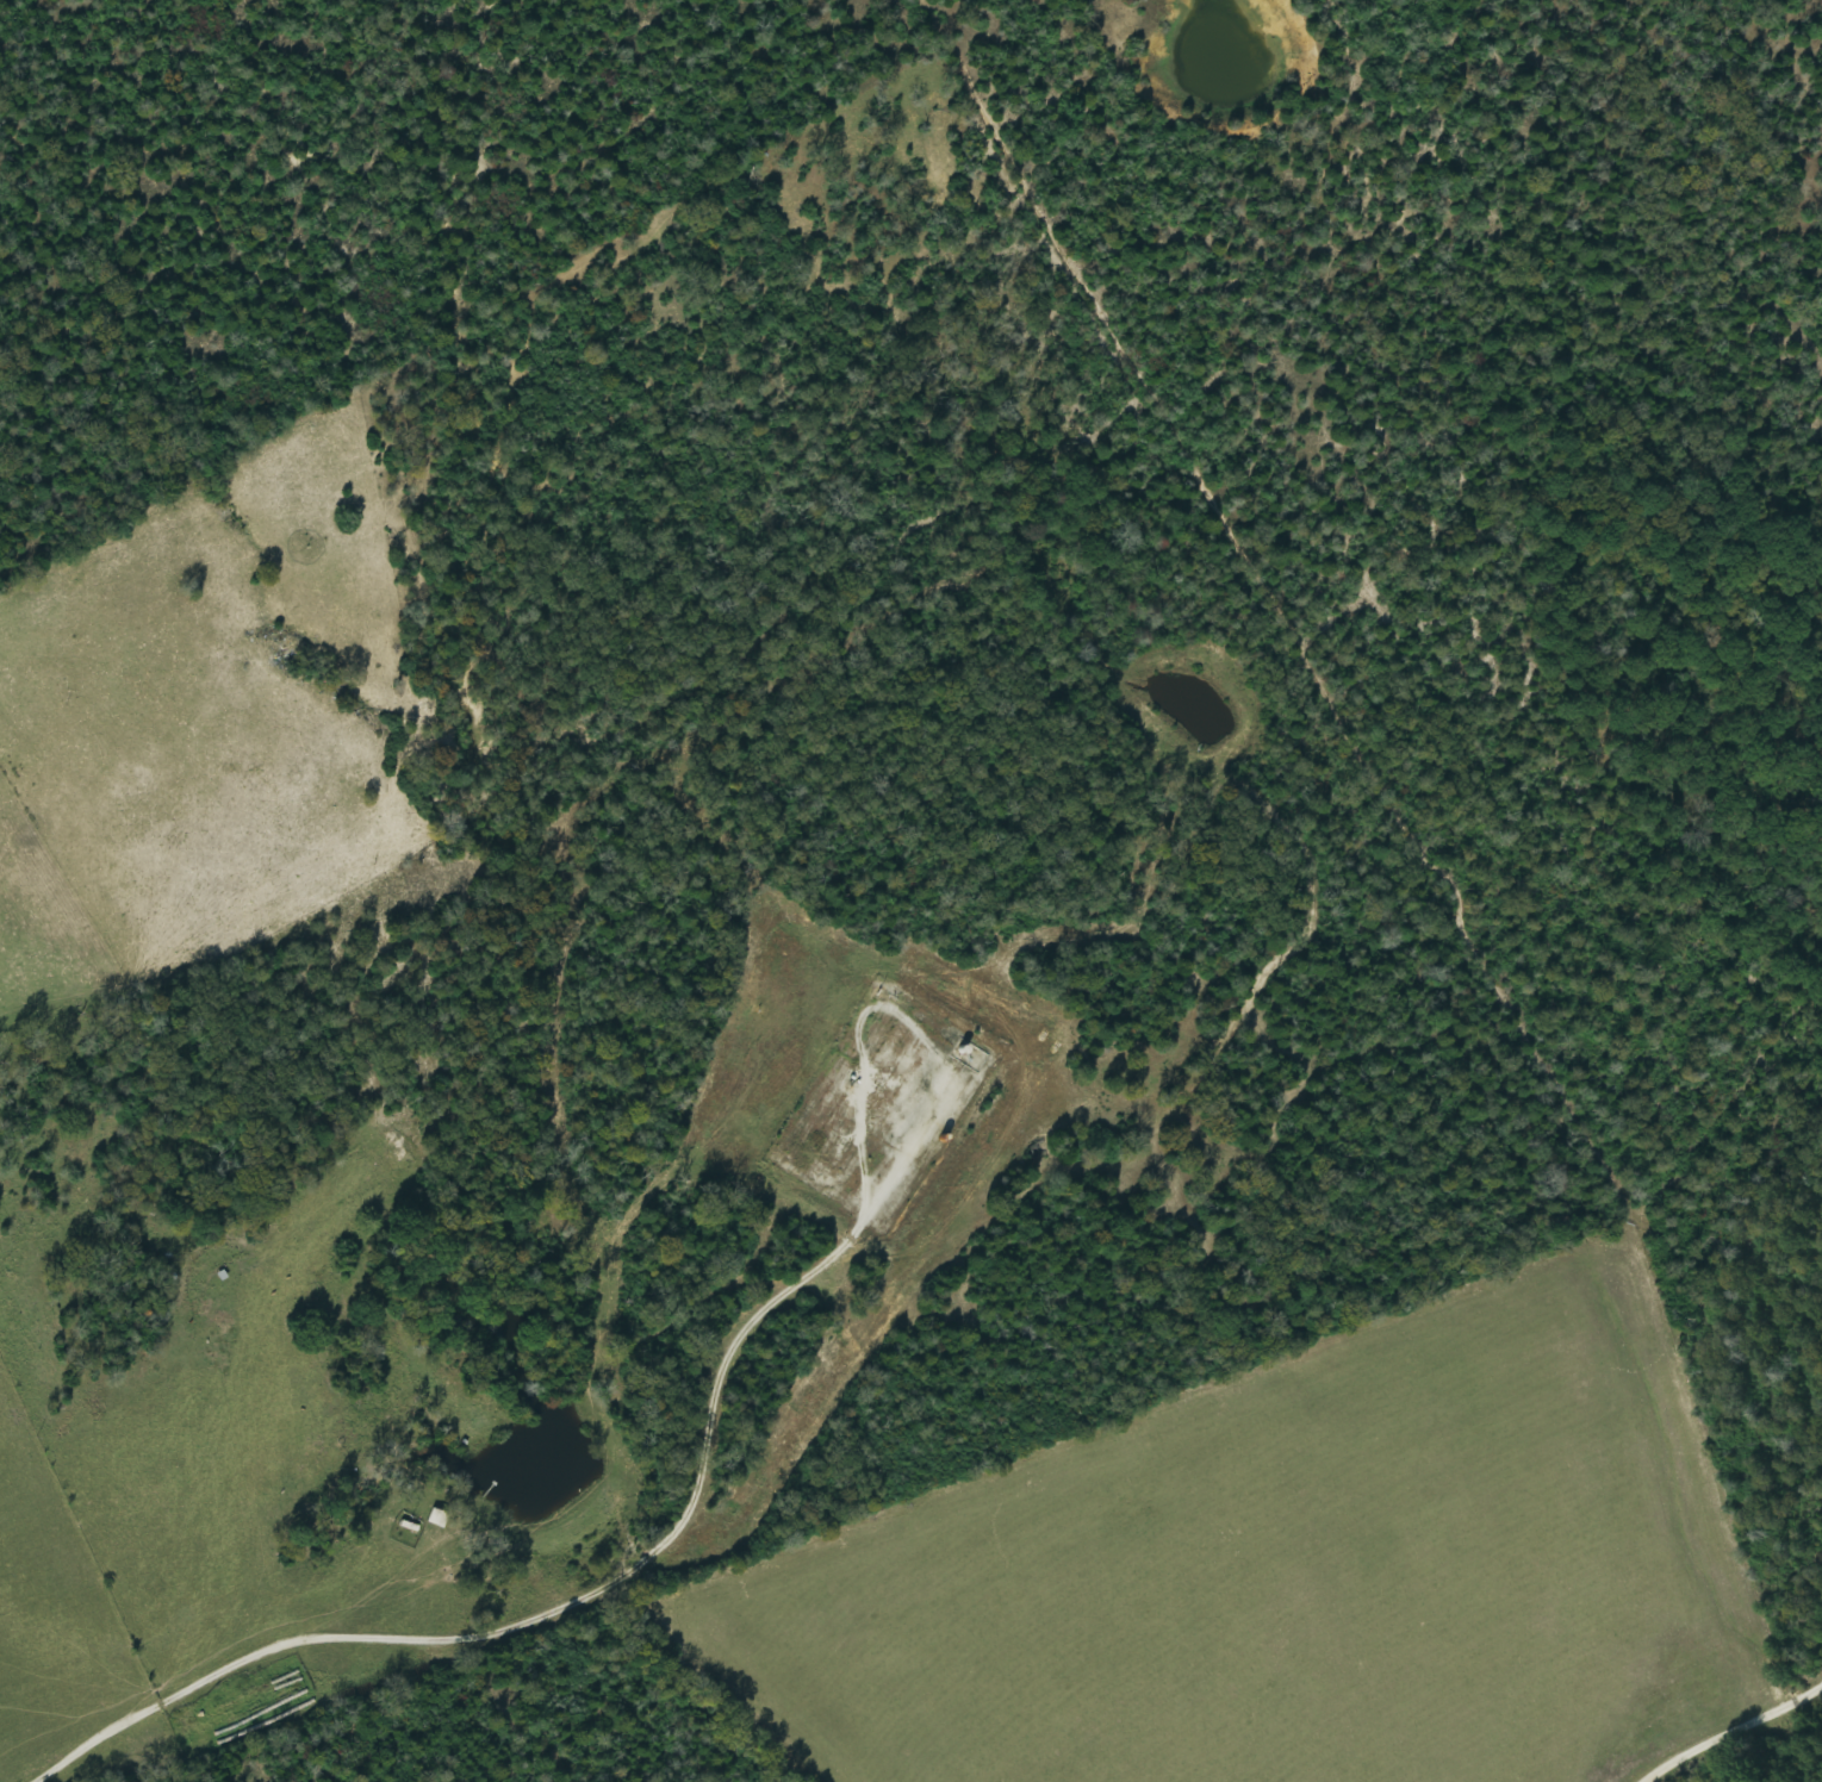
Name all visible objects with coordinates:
silo: (963, 1052)
road: (935, 1070)
petroleum well: (848, 1088)
road: (536, 1616)
road: (1730, 1732)

